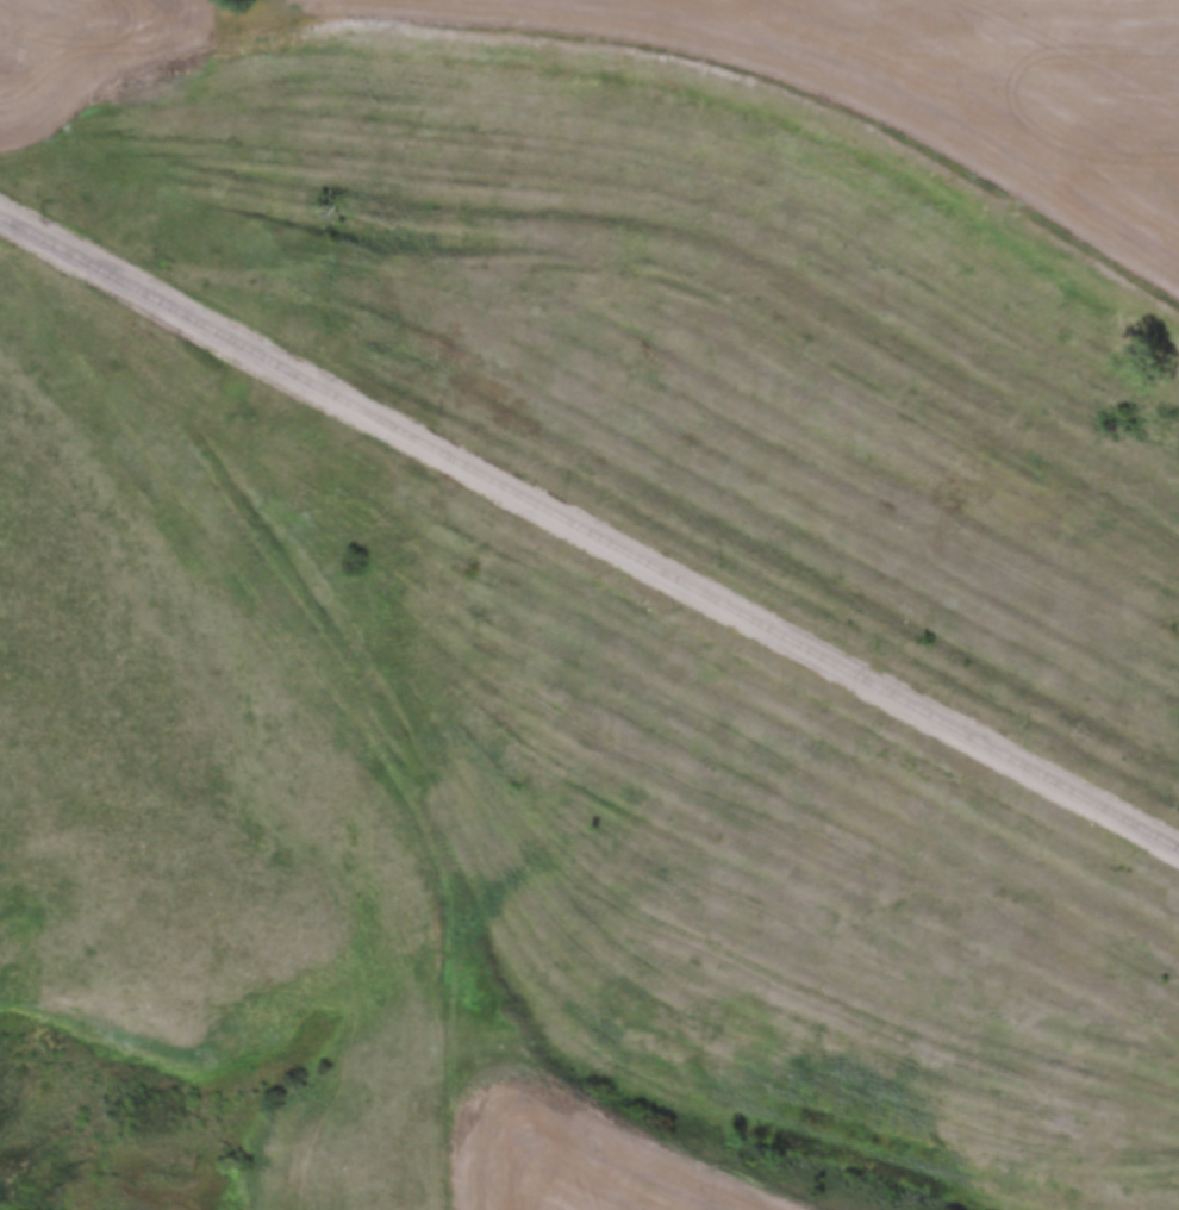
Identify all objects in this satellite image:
railway: (591, 530)
road: (338, 704)

